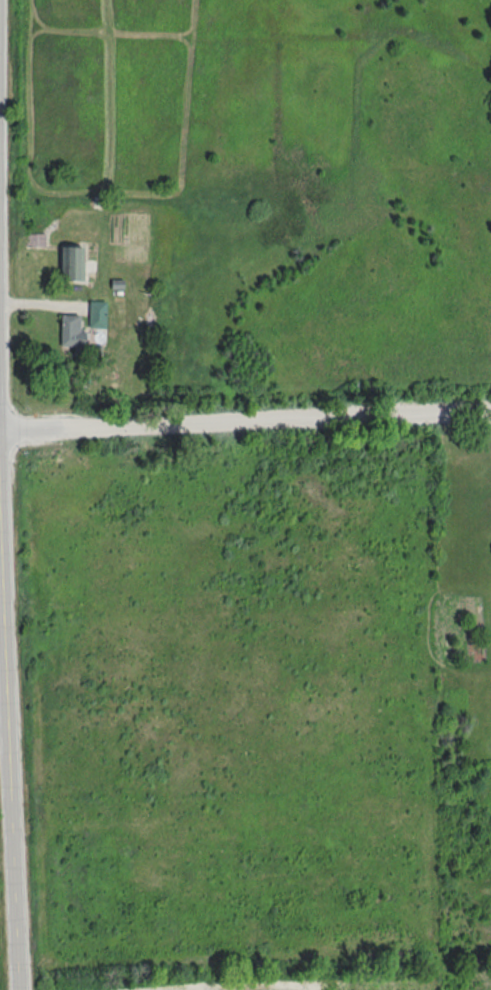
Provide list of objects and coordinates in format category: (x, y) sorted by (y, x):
building: (35, 240)
building: (72, 263)
building: (97, 314)
building: (71, 332)
road: (245, 419)
road: (4, 495)
road: (4, 616)
road: (7, 749)

